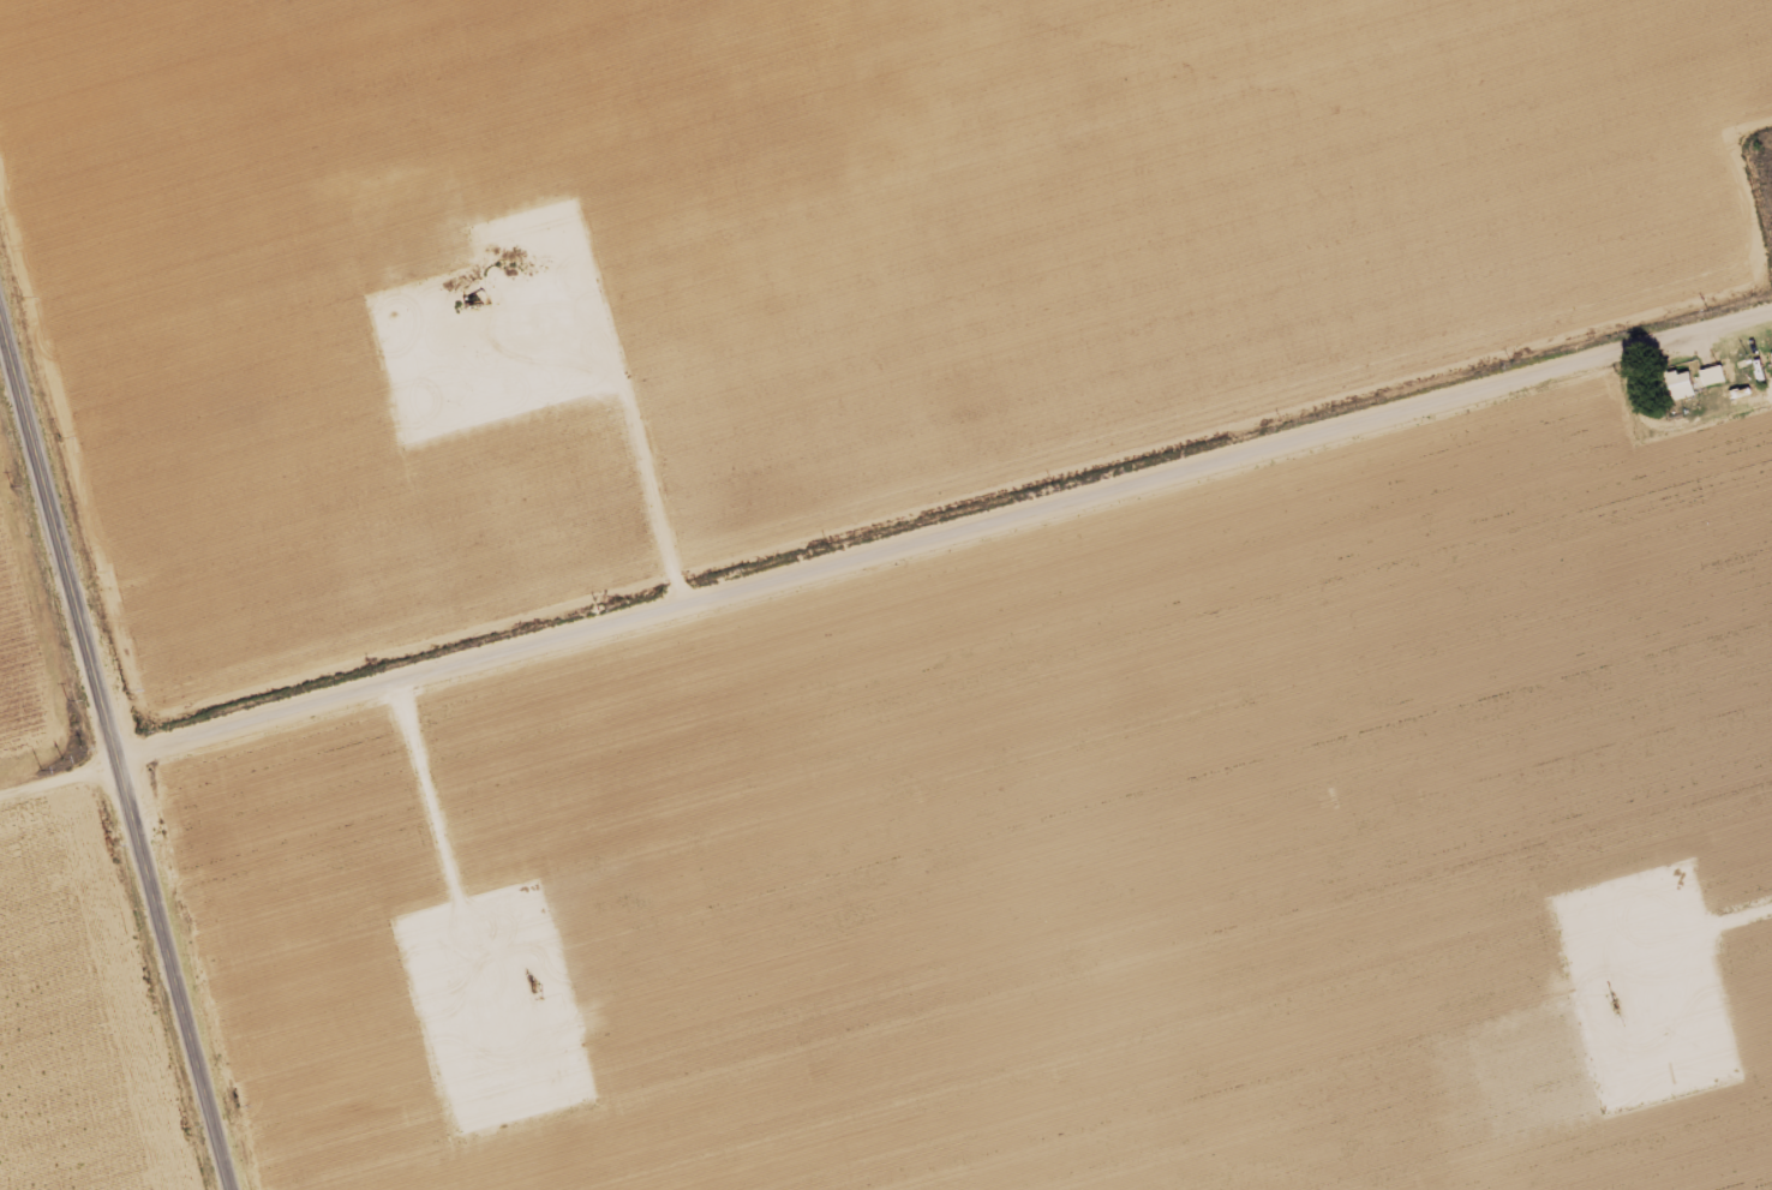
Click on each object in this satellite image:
building: (1683, 385)
road: (1671, 429)
road: (941, 532)
road: (110, 753)

